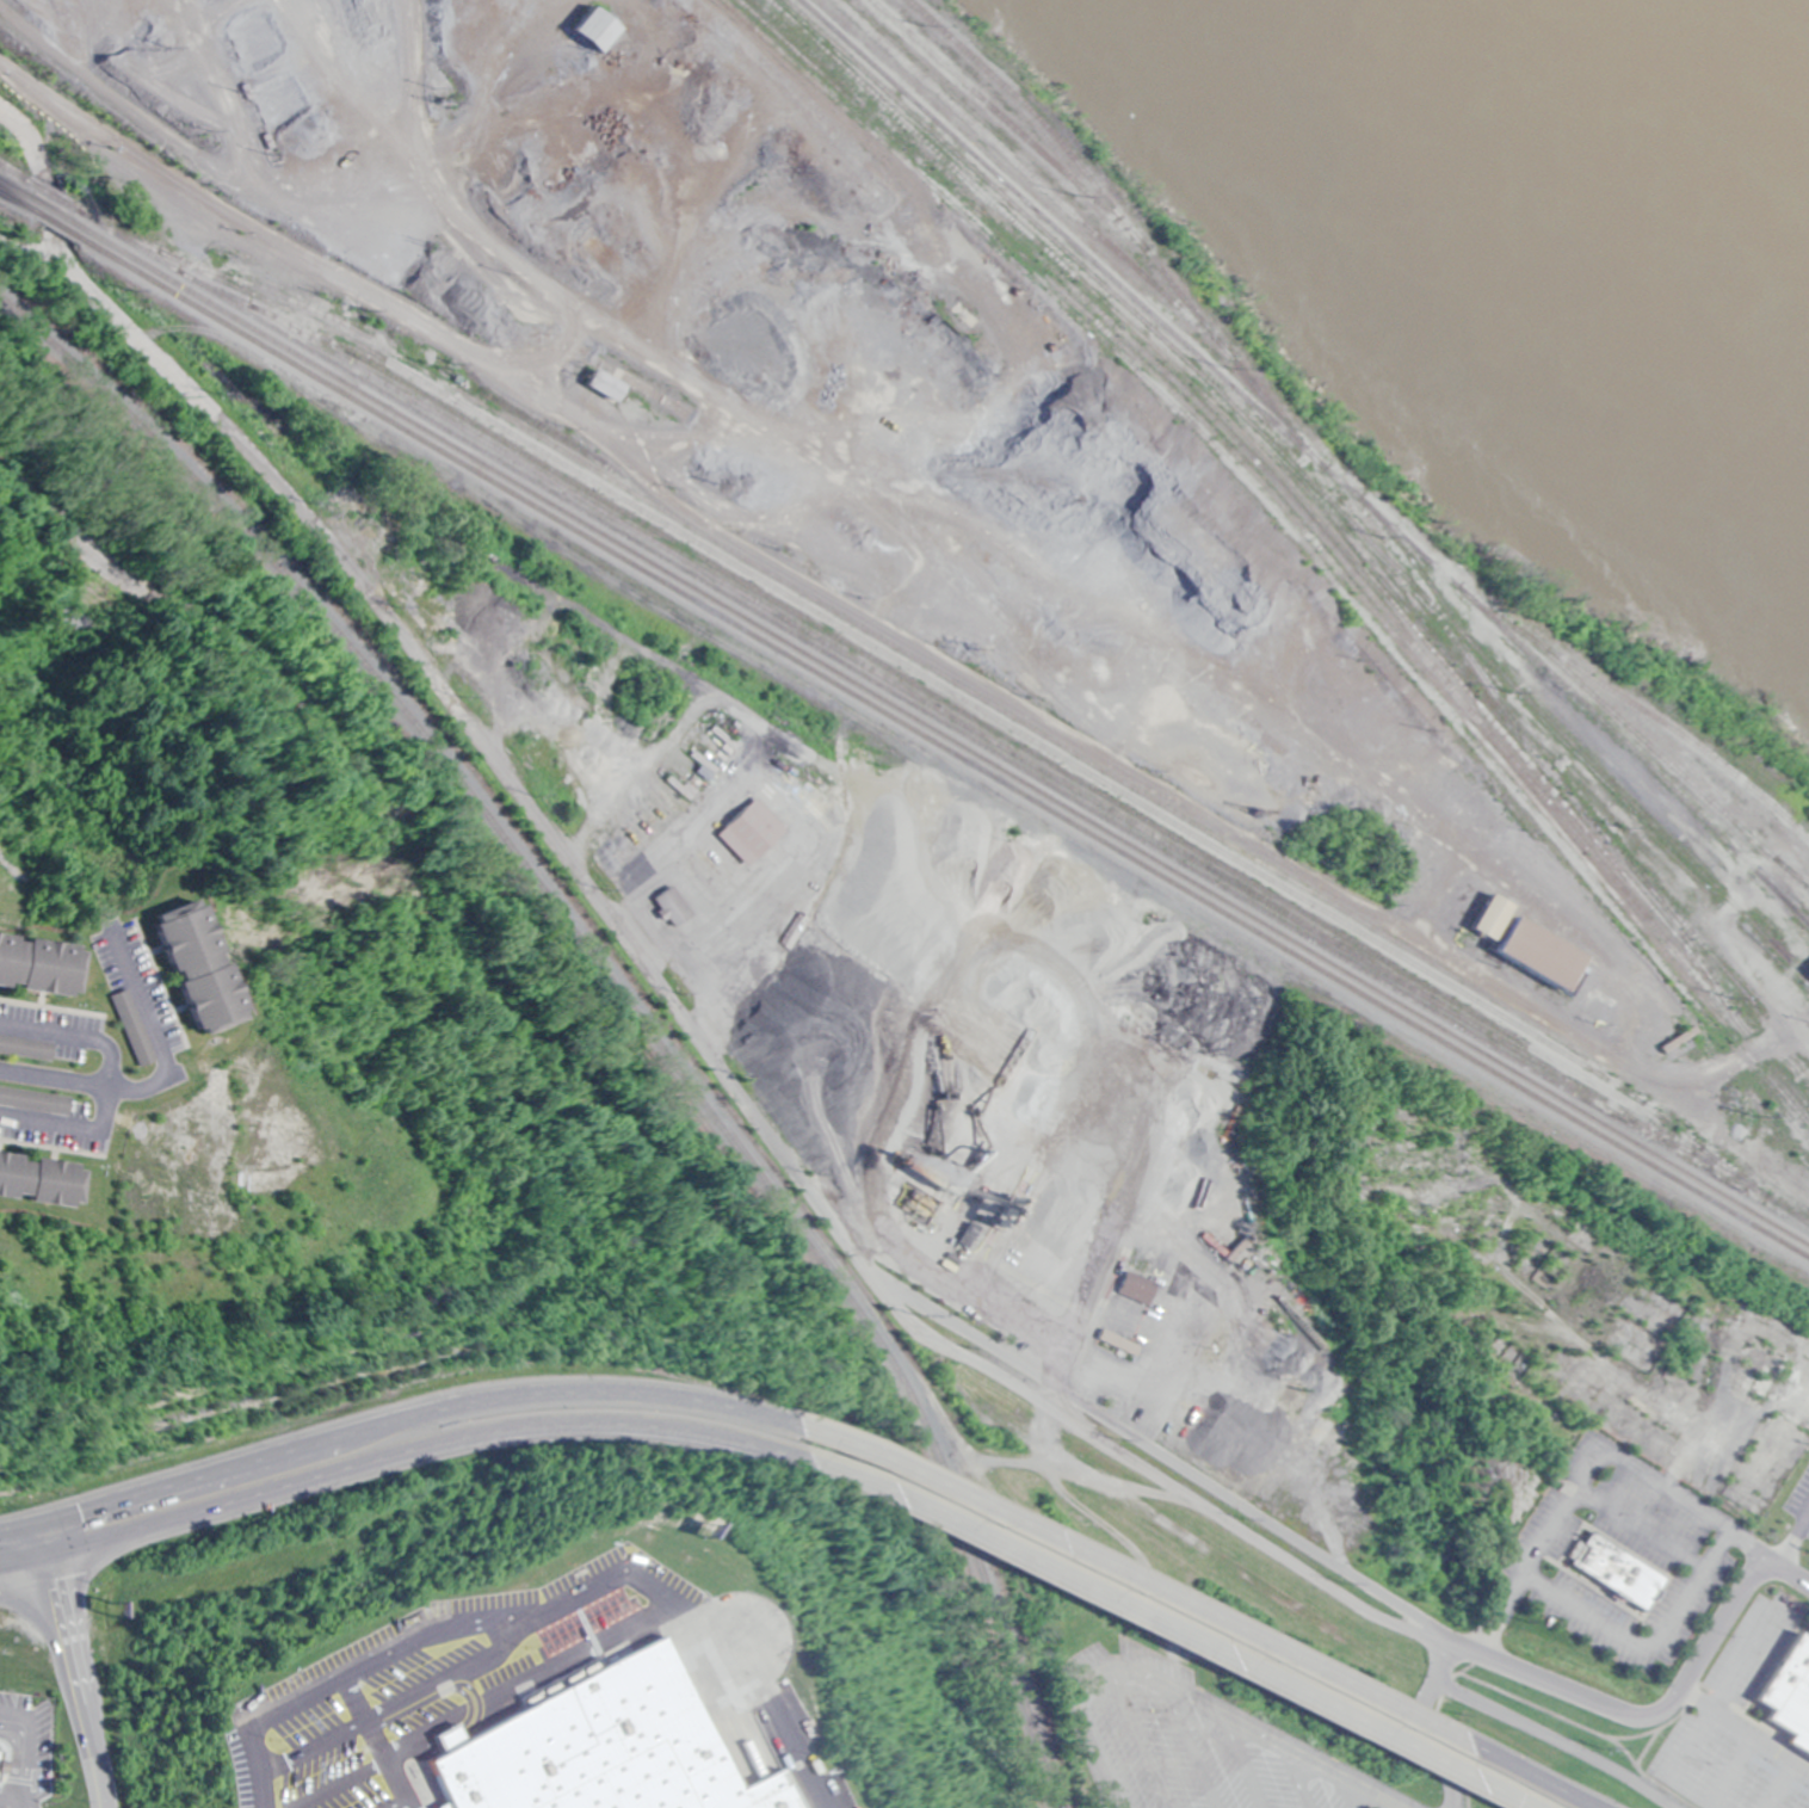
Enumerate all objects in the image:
building: (603, 26)
river: (1764, 38)
railway: (80, 74)
railway: (1002, 119)
railway: (1019, 163)
railway: (16, 171)
railway: (17, 185)
railway: (47, 190)
railway: (18, 199)
railway: (69, 204)
railway: (50, 206)
railway: (53, 220)
railway: (1119, 226)
building: (610, 384)
railway: (1237, 414)
railway: (1265, 457)
railway: (1310, 458)
railway: (1310, 525)
railway: (1304, 532)
railway: (1298, 541)
road: (1072, 586)
railway: (907, 664)
railway: (959, 683)
railway: (918, 706)
railway: (938, 706)
railway: (1643, 706)
railway: (977, 718)
railway: (938, 729)
railway: (938, 742)
railway: (1668, 764)
railway: (1625, 802)
building: (742, 832)
railway: (1796, 876)
building: (1482, 924)
railway: (1688, 951)
building: (44, 965)
building: (220, 968)
railway: (1723, 973)
railway: (616, 992)
building: (136, 1028)
road: (75, 1030)
building: (27, 1048)
road: (85, 1081)
road: (760, 1123)
road: (74, 1136)
building: (44, 1180)
road: (1013, 1193)
building: (1130, 1289)
building: (1283, 1402)
road: (406, 1413)
road: (416, 1450)
road: (1168, 1483)
road: (1686, 1501)
traffic signals: (39, 1517)
road: (1638, 1528)
road: (1793, 1535)
road: (1537, 1544)
traffic signals: (48, 1555)
road: (1785, 1566)
building: (1614, 1571)
railway: (1054, 1580)
building: (599, 1608)
road: (1204, 1612)
road: (508, 1616)
road: (1186, 1641)
road: (1647, 1645)
road: (72, 1661)
road: (450, 1676)
road: (530, 1684)
road: (1188, 1687)
road: (1721, 1691)
road: (770, 1692)
building: (1789, 1695)
road: (1425, 1722)
road: (258, 1726)
road: (1743, 1728)
road: (1147, 1735)
road: (1554, 1740)
road: (1194, 1741)
road: (369, 1745)
road: (311, 1747)
building: (601, 1748)
building: (5, 1758)
road: (1251, 1759)
road: (1729, 1771)
road: (1303, 1775)
road: (1778, 1784)
road: (337, 1787)
road: (1356, 1790)
road: (389, 1803)
road: (1591, 1804)

